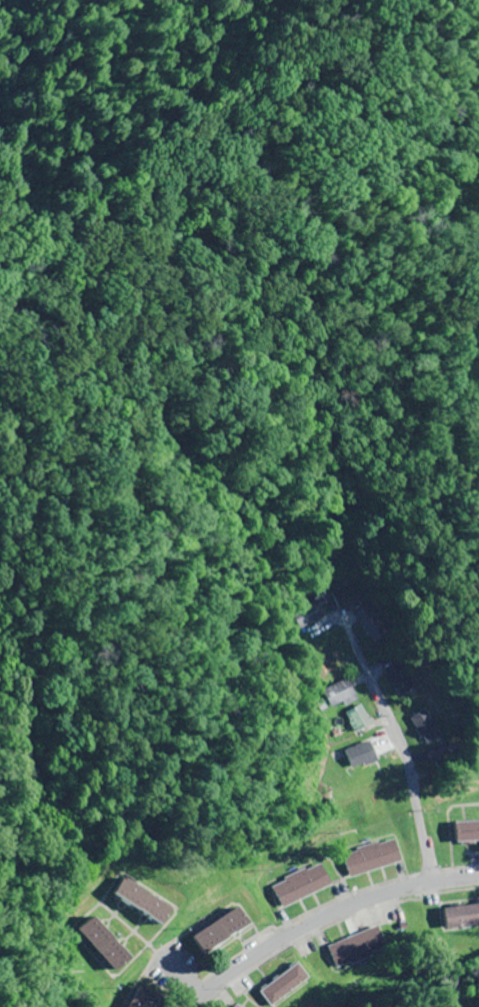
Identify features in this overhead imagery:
building: (342, 699)
building: (356, 722)
building: (429, 727)
building: (360, 755)
road: (375, 805)
building: (468, 832)
building: (371, 858)
building: (300, 885)
road: (320, 916)
building: (461, 917)
building: (219, 930)
building: (355, 947)
building: (112, 959)
building: (281, 984)
building: (235, 1006)

